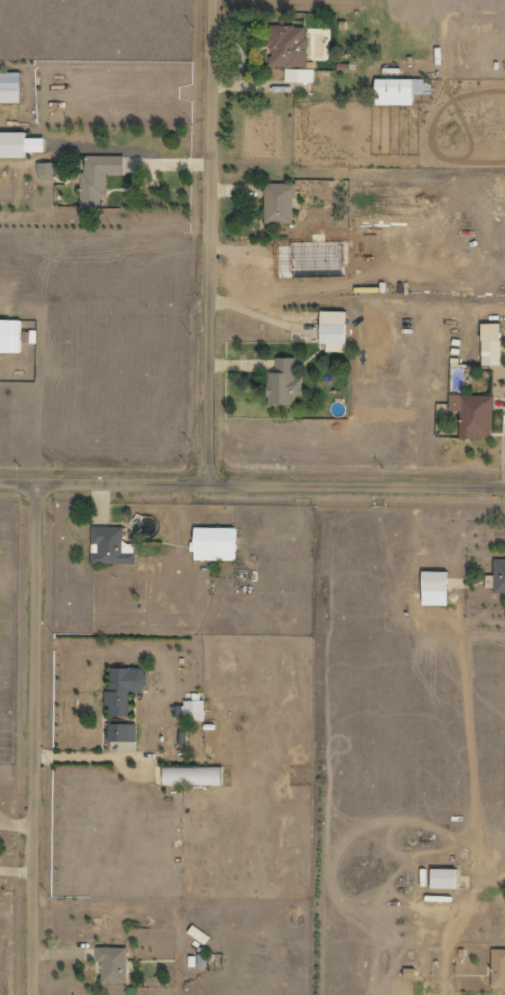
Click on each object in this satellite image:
building: (291, 52)
building: (11, 87)
building: (399, 91)
building: (20, 145)
building: (47, 171)
building: (99, 178)
building: (280, 203)
road: (213, 242)
building: (304, 253)
building: (335, 331)
building: (11, 336)
building: (493, 344)
building: (285, 383)
building: (474, 414)
road: (252, 484)
building: (218, 544)
building: (500, 576)
building: (437, 582)
building: (193, 711)
building: (124, 733)
road: (38, 737)
building: (195, 777)
building: (446, 879)
building: (114, 964)
building: (499, 968)

